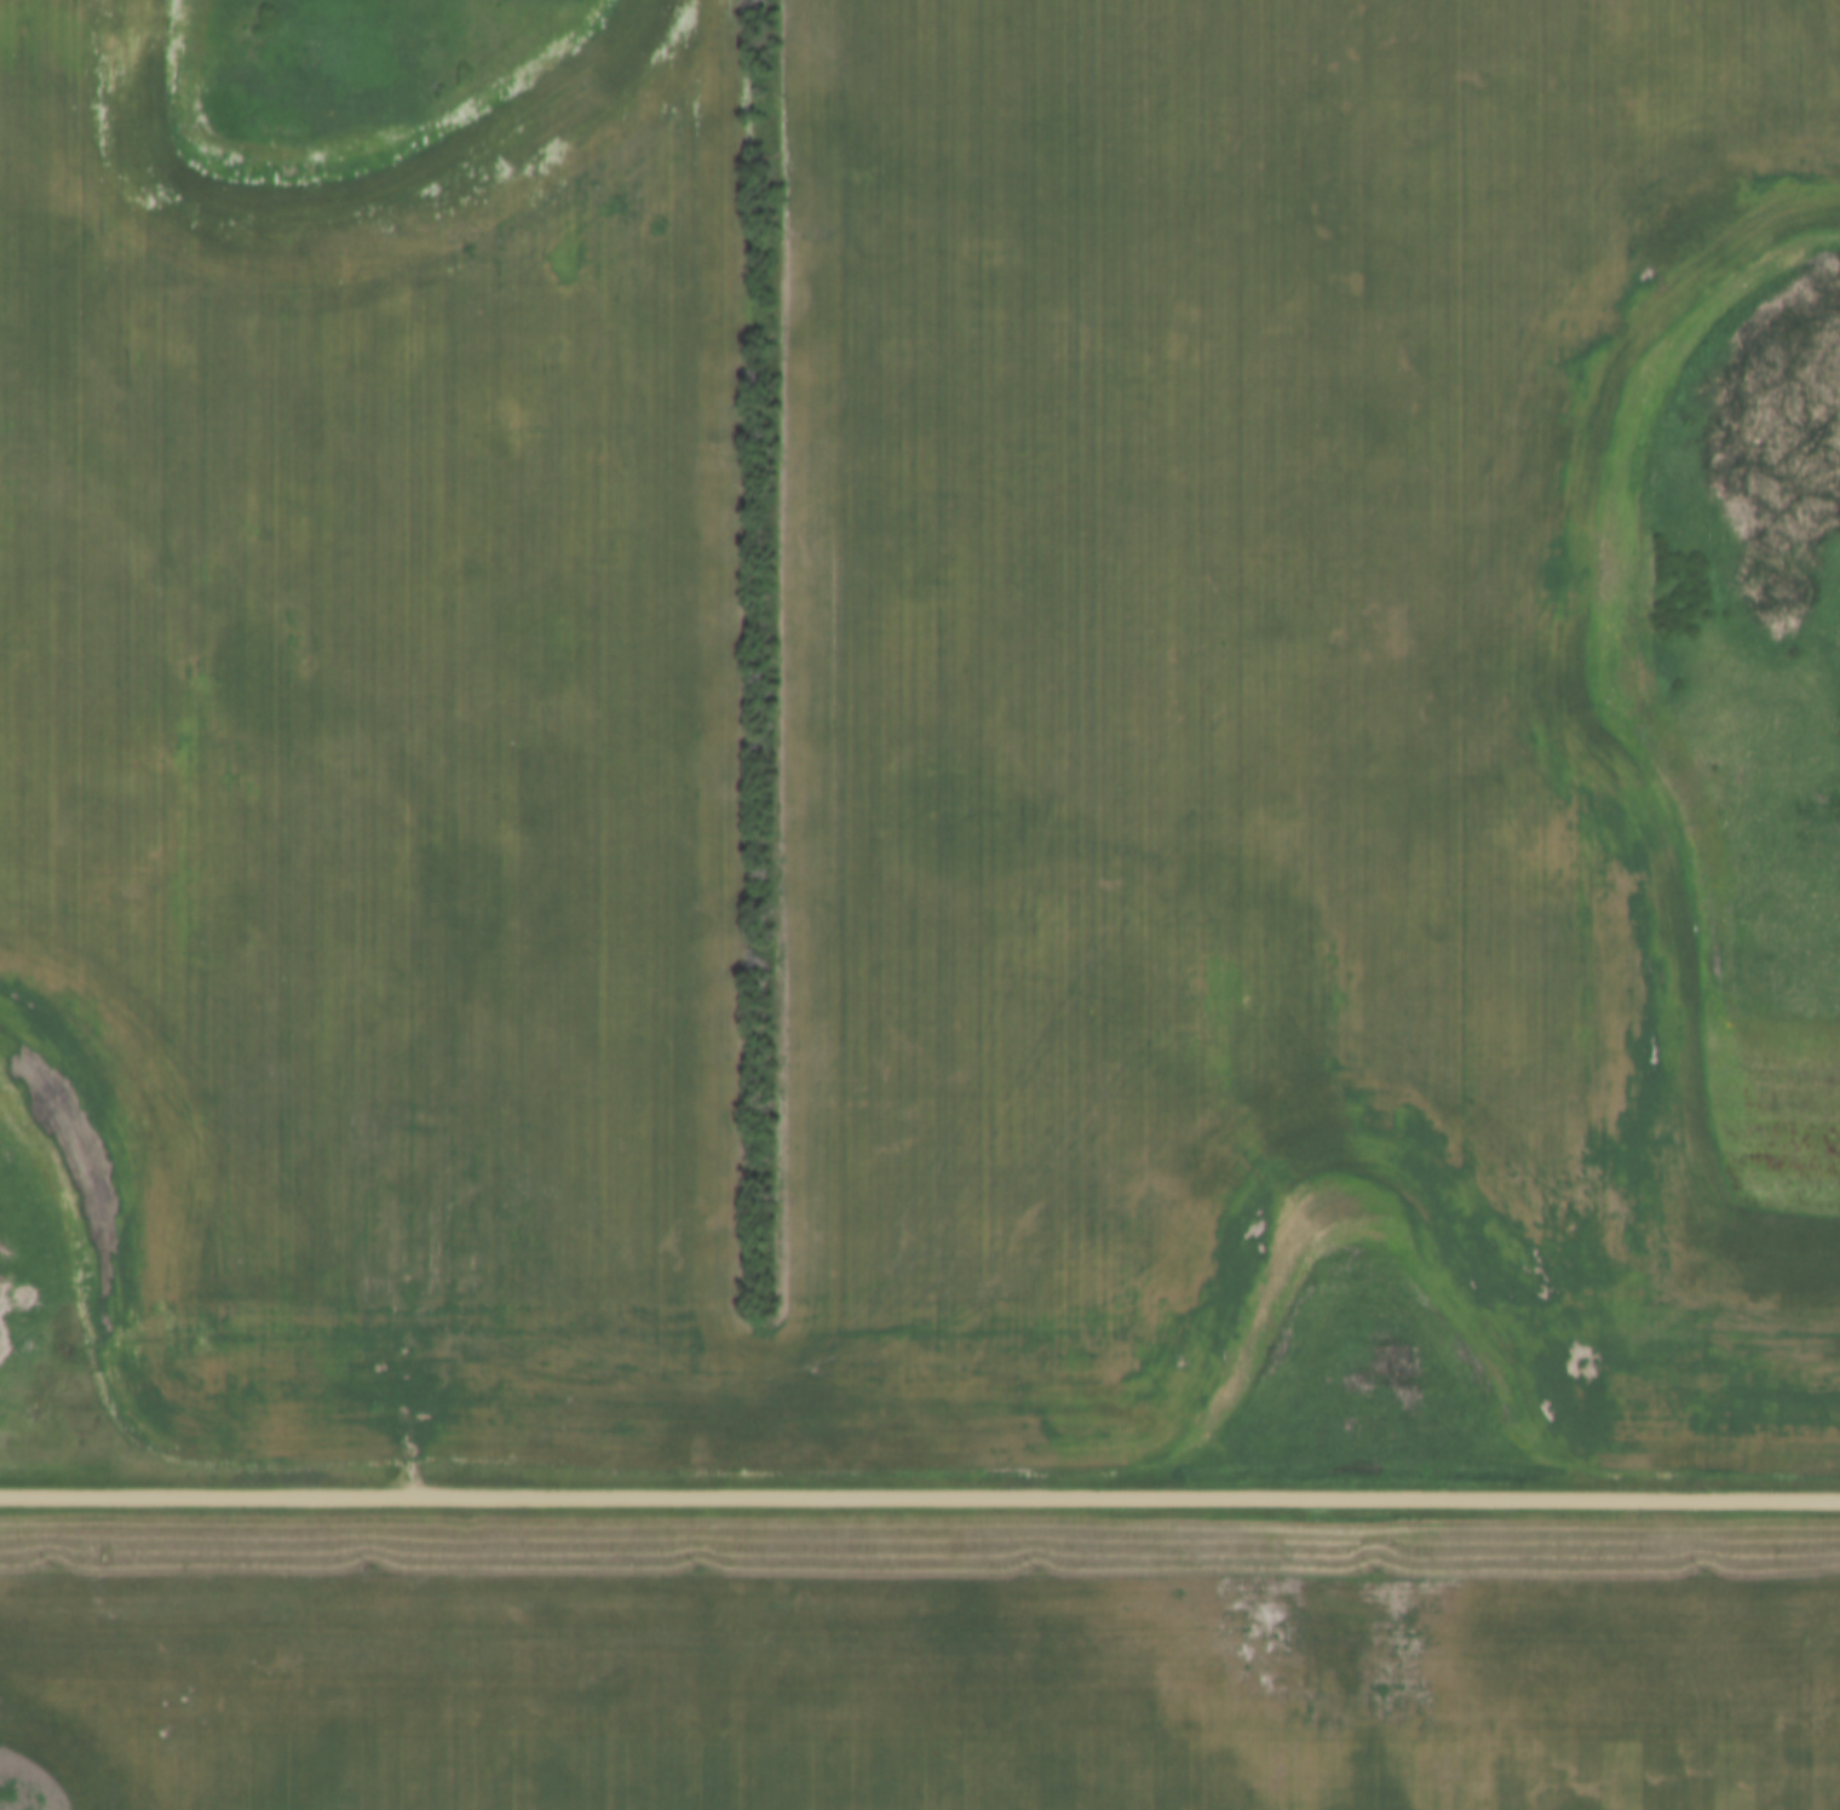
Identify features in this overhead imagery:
road: (920, 1495)

